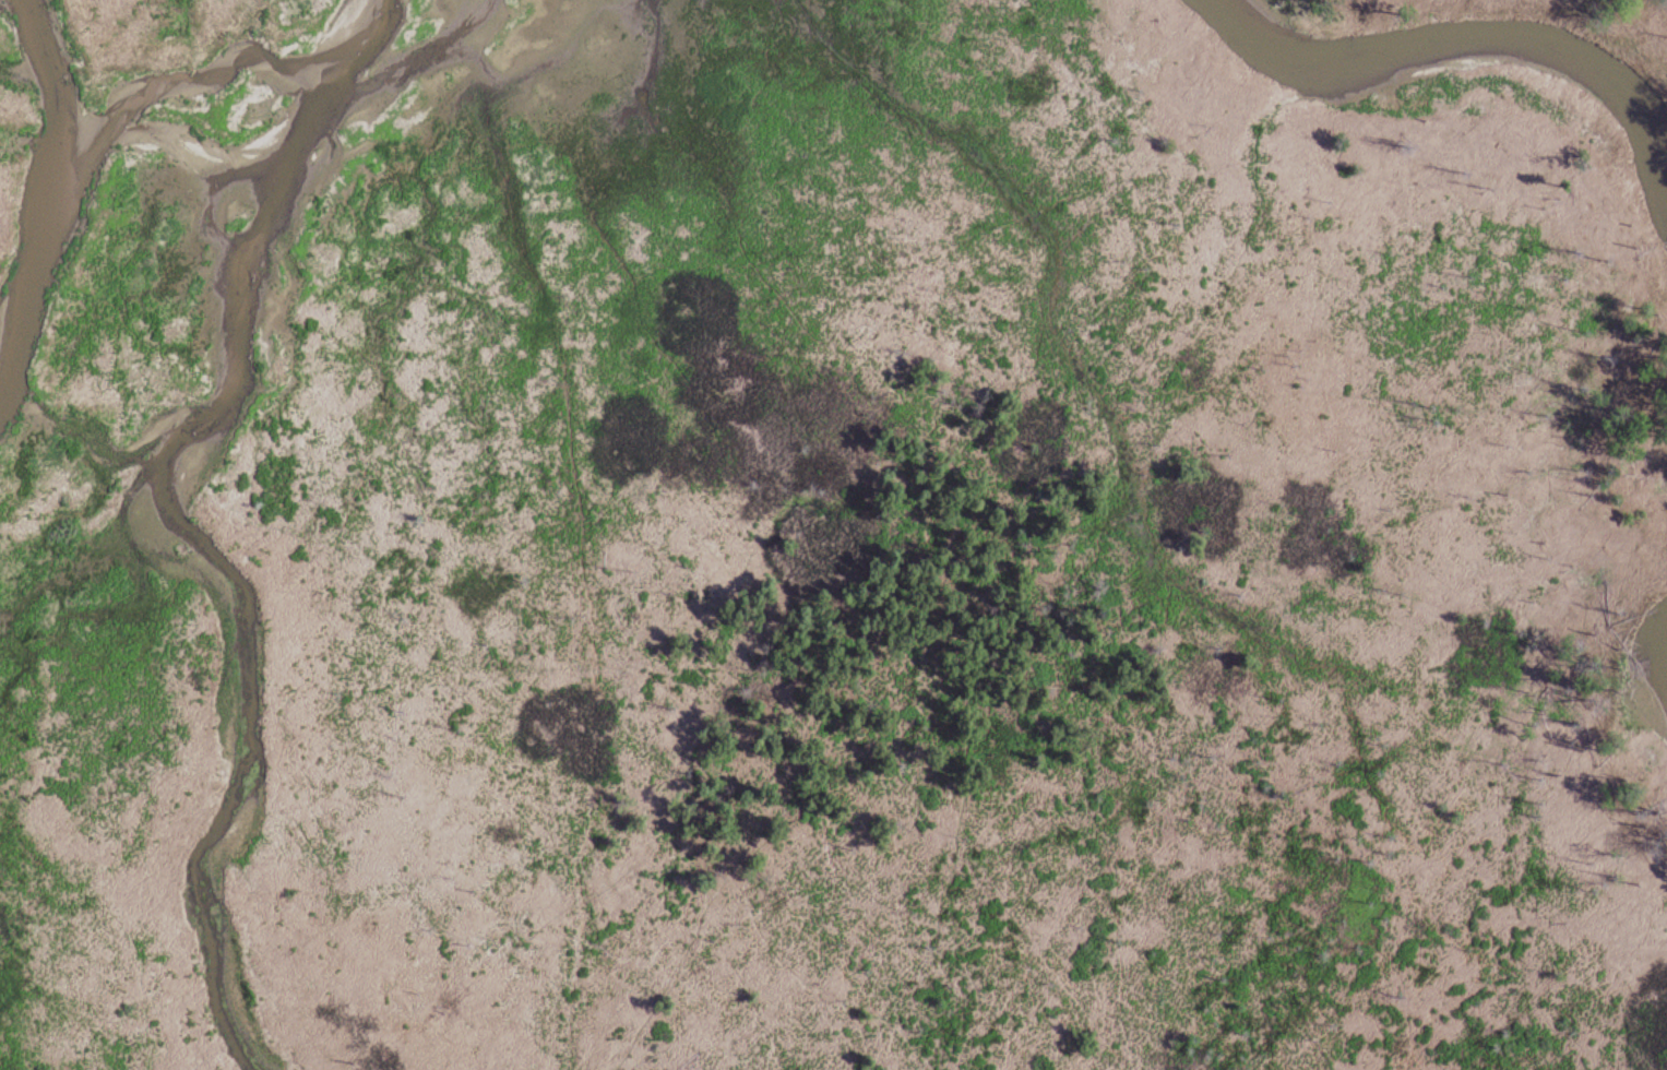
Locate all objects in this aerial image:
river: (56, 183)

